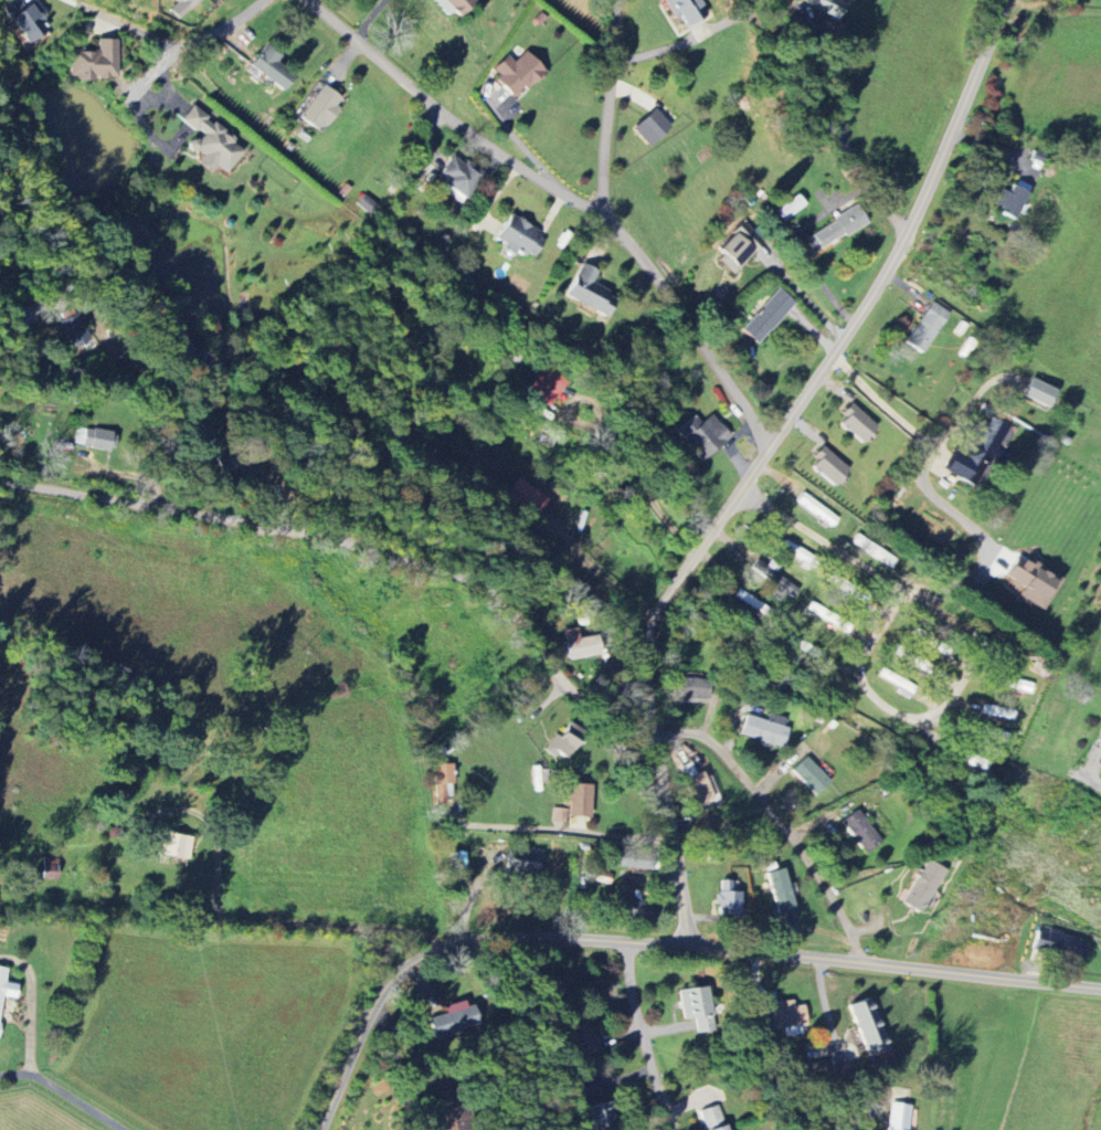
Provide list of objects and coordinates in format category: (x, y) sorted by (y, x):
building: (460, 6)
building: (828, 6)
building: (181, 7)
building: (686, 10)
road: (368, 19)
building: (24, 21)
road: (163, 42)
building: (94, 62)
building: (269, 68)
building: (518, 74)
road: (828, 85)
road: (606, 106)
building: (321, 108)
building: (652, 127)
road: (823, 129)
building: (211, 142)
building: (459, 177)
road: (570, 197)
building: (1013, 199)
building: (835, 230)
building: (519, 239)
road: (800, 245)
building: (739, 249)
building: (590, 292)
road: (802, 293)
building: (767, 316)
building: (927, 327)
building: (76, 329)
building: (179, 341)
building: (546, 386)
building: (1039, 392)
road: (972, 404)
building: (857, 423)
building: (702, 435)
building: (96, 439)
road: (171, 439)
road: (928, 446)
building: (984, 452)
building: (229, 461)
road: (763, 461)
road: (637, 465)
building: (828, 466)
building: (526, 496)
road: (390, 556)
building: (1033, 581)
road: (878, 619)
building: (930, 641)
building: (580, 644)
building: (999, 652)
building: (917, 661)
building: (691, 688)
building: (998, 711)
building: (765, 729)
building: (991, 733)
building: (564, 742)
road: (1091, 770)
building: (812, 775)
building: (443, 783)
building: (697, 784)
building: (578, 800)
building: (559, 815)
road: (781, 820)
road: (561, 827)
building: (861, 832)
building: (174, 845)
building: (632, 860)
building: (521, 863)
building: (49, 868)
building: (924, 886)
building: (781, 890)
building: (729, 899)
building: (631, 906)
road: (257, 921)
road: (659, 943)
building: (1060, 944)
building: (6, 986)
road: (27, 1005)
building: (697, 1007)
building: (787, 1017)
building: (455, 1020)
building: (869, 1028)
road: (833, 1034)
road: (645, 1036)
building: (581, 1037)
road: (400, 1063)
building: (815, 1069)
road: (15, 1074)
road: (77, 1100)
building: (603, 1117)
building: (899, 1117)
building: (714, 1118)

